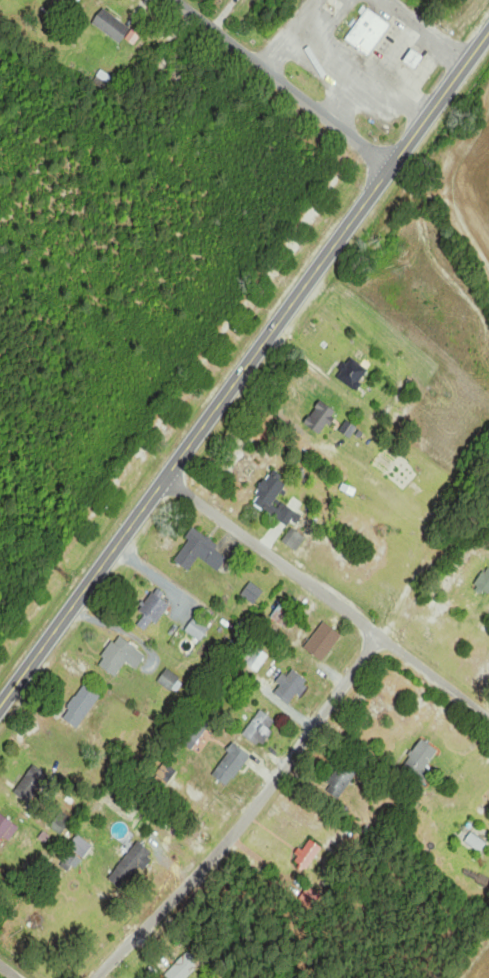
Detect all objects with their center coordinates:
building: (61, 0)
building: (111, 27)
building: (368, 32)
building: (168, 69)
road: (281, 84)
road: (244, 370)
building: (352, 373)
building: (320, 417)
building: (274, 499)
building: (200, 552)
building: (484, 582)
road: (328, 598)
building: (152, 611)
building: (284, 615)
building: (197, 629)
building: (322, 642)
building: (120, 656)
building: (257, 660)
building: (170, 681)
building: (290, 687)
building: (80, 706)
building: (198, 727)
building: (260, 728)
building: (420, 760)
building: (231, 764)
building: (341, 780)
road: (249, 816)
building: (6, 830)
building: (475, 843)
building: (70, 862)
building: (130, 866)
building: (184, 967)
road: (8, 971)

